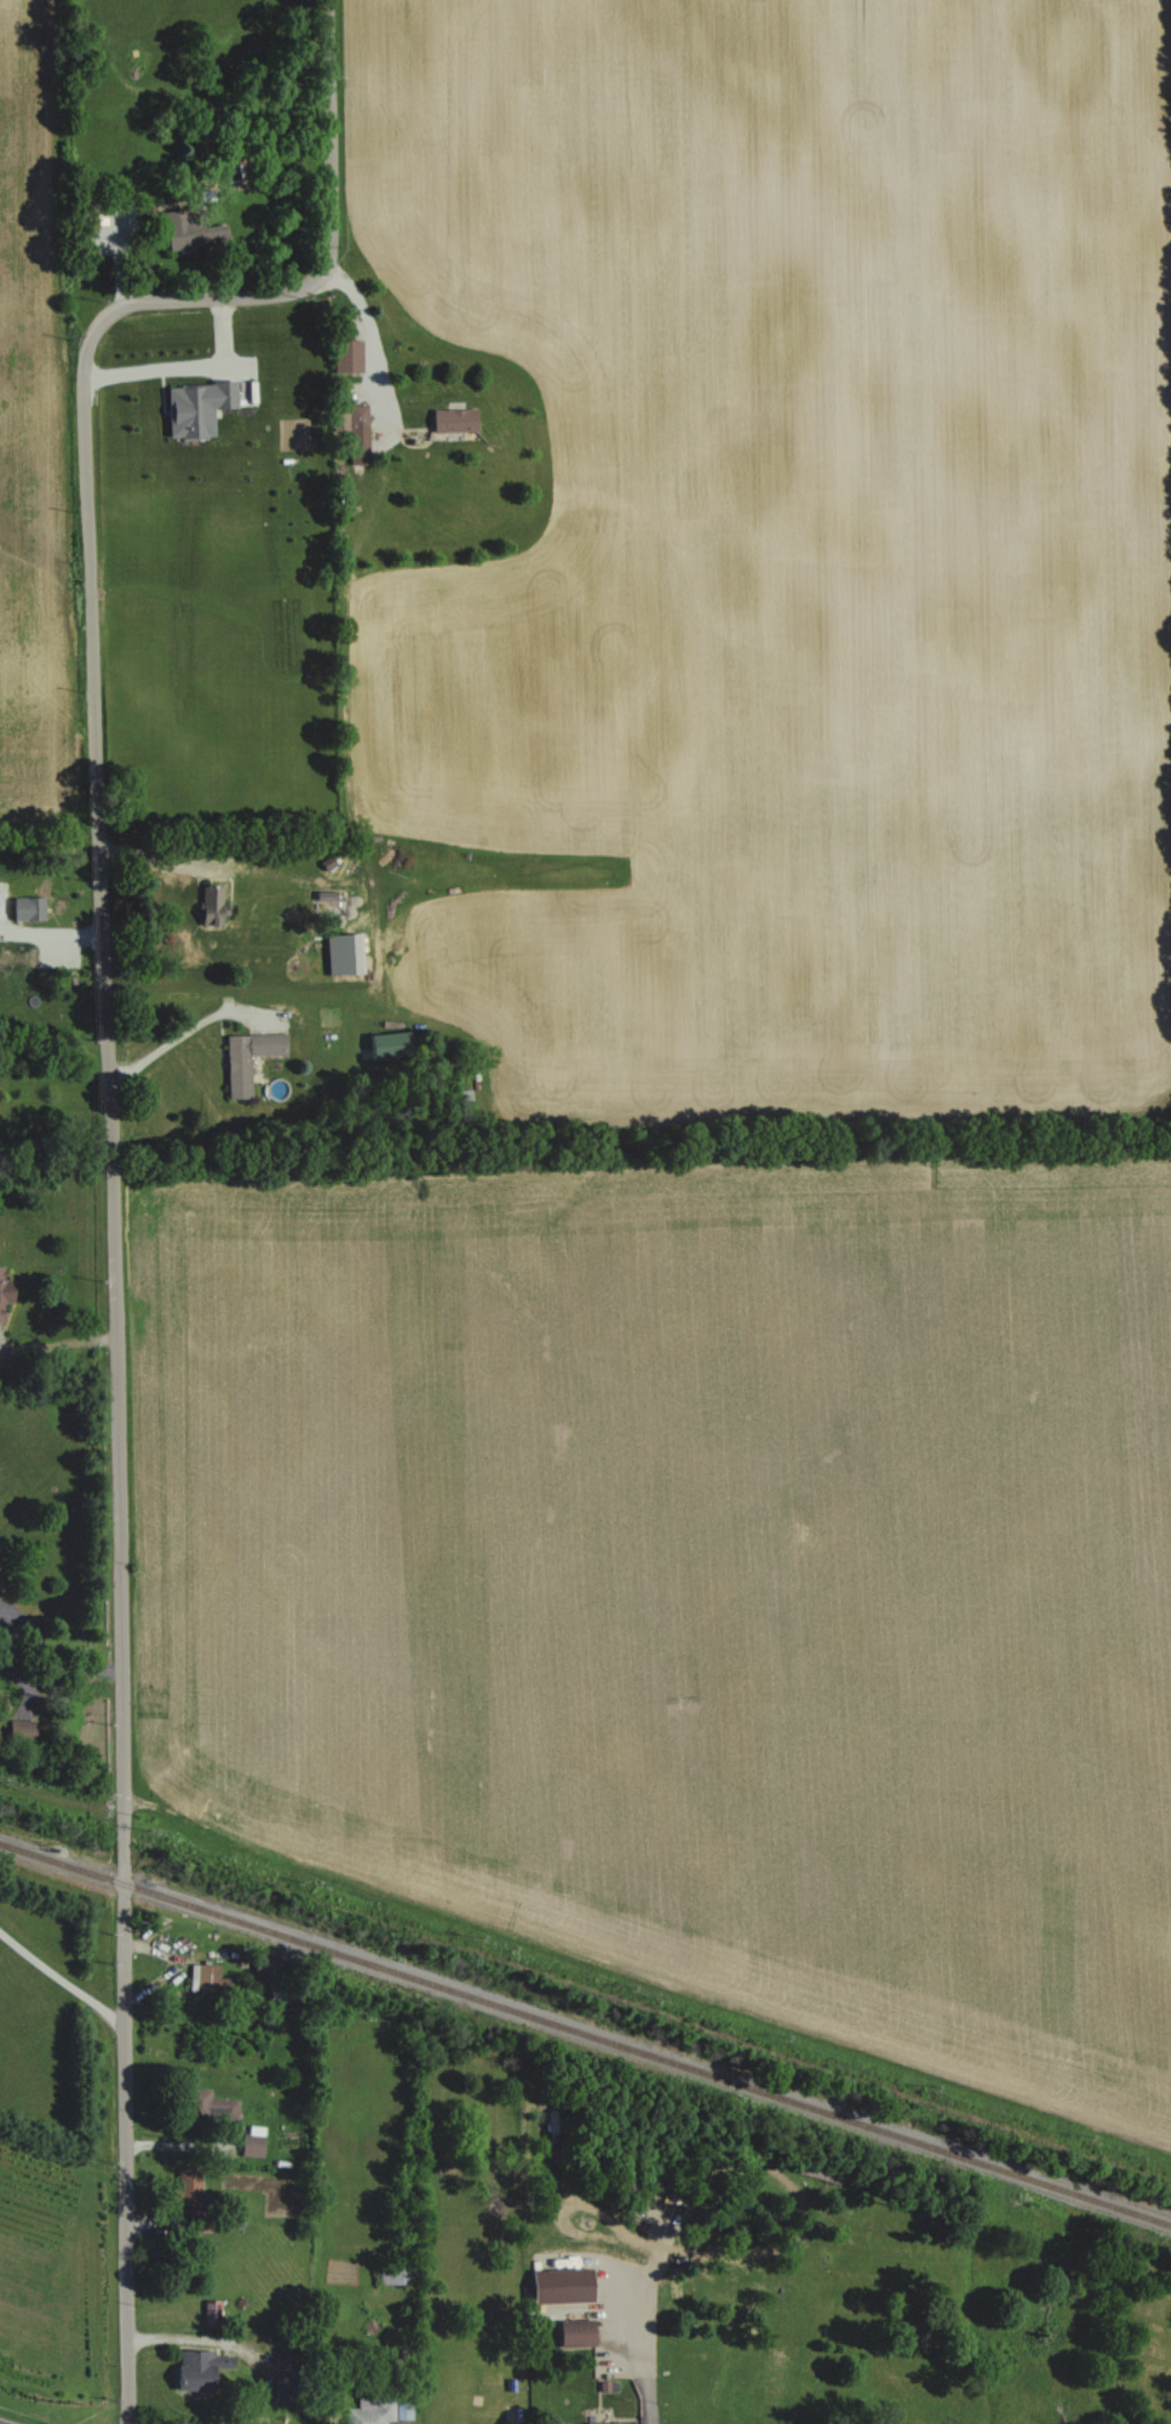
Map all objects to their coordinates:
road: (329, 134)
building: (190, 230)
road: (368, 337)
building: (348, 355)
building: (196, 407)
building: (453, 420)
building: (357, 435)
building: (211, 906)
building: (28, 909)
building: (0, 918)
building: (344, 955)
road: (186, 1027)
building: (389, 1045)
building: (248, 1059)
road: (111, 1251)
building: (4, 1290)
road: (56, 1336)
road: (52, 1654)
road: (10, 1672)
road: (27, 1700)
building: (18, 1729)
building: (205, 1977)
road: (61, 1981)
railway: (585, 2035)
building: (212, 2105)
building: (252, 2142)
building: (186, 2185)
building: (561, 2285)
building: (212, 2313)
building: (576, 2333)
road: (201, 2340)
road: (635, 2349)
building: (195, 2368)
building: (287, 2377)
building: (379, 2411)
building: (615, 2423)

